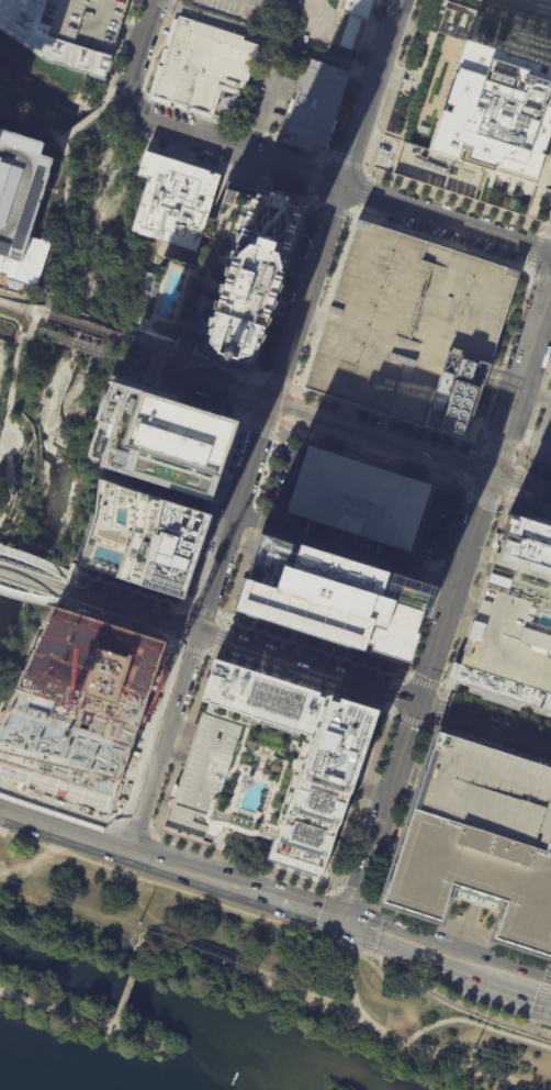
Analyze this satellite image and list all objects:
road: (443, 3)
road: (538, 3)
building: (358, 8)
parking lot: (383, 9)
parking lot: (139, 10)
road: (458, 10)
road: (465, 12)
road: (501, 15)
parking lot: (159, 18)
building: (448, 22)
road: (535, 30)
building: (67, 31)
road: (132, 33)
road: (265, 38)
road: (496, 44)
road: (139, 48)
road: (529, 49)
parking lot: (147, 56)
road: (549, 56)
building: (201, 64)
road: (400, 73)
road: (351, 77)
building: (409, 80)
road: (395, 82)
road: (395, 85)
road: (369, 91)
road: (144, 94)
road: (128, 99)
road: (112, 102)
road: (161, 102)
building: (315, 103)
road: (108, 105)
parking lot: (351, 111)
building: (495, 112)
road: (116, 114)
parking lot: (173, 114)
road: (86, 123)
building: (333, 126)
parking lot: (161, 137)
road: (64, 140)
building: (327, 142)
building: (295, 144)
road: (295, 145)
road: (230, 147)
road: (180, 148)
parking lot: (293, 151)
road: (321, 154)
parking lot: (212, 155)
road: (322, 158)
road: (346, 162)
road: (241, 168)
road: (366, 168)
road: (369, 174)
road: (543, 174)
road: (314, 176)
parking lot: (280, 177)
parking lot: (293, 181)
road: (265, 182)
road: (363, 191)
road: (310, 193)
building: (173, 200)
building: (21, 201)
road: (314, 201)
road: (459, 201)
road: (65, 205)
road: (532, 205)
road: (331, 207)
road: (358, 210)
parking lot: (461, 212)
road: (350, 213)
road: (446, 219)
road: (528, 219)
road: (542, 222)
parking lot: (442, 231)
road: (542, 232)
road: (442, 241)
road: (549, 247)
road: (535, 251)
building: (1, 256)
road: (360, 265)
road: (527, 267)
building: (8, 274)
building: (226, 275)
road: (532, 276)
parking lot: (296, 277)
road: (542, 277)
road: (283, 288)
road: (487, 288)
road: (48, 290)
road: (304, 294)
road: (326, 299)
road: (23, 309)
road: (44, 311)
road: (311, 316)
road: (34, 318)
road: (86, 327)
building: (409, 329)
parking lot: (409, 329)
road: (23, 335)
road: (428, 335)
road: (126, 341)
railway: (77, 343)
road: (155, 349)
building: (200, 349)
road: (147, 351)
building: (303, 353)
power substation: (3, 355)
road: (178, 355)
road: (153, 356)
road: (192, 357)
building: (227, 357)
road: (504, 358)
park: (146, 360)
road: (156, 360)
road: (221, 363)
road: (135, 366)
road: (149, 366)
parking lot: (220, 370)
road: (504, 371)
road: (258, 375)
road: (249, 378)
road: (274, 380)
road: (519, 381)
road: (499, 383)
road: (294, 387)
road: (297, 393)
road: (245, 397)
road: (176, 398)
road: (8, 411)
road: (291, 412)
road: (238, 415)
road: (386, 419)
road: (240, 421)
road: (358, 421)
road: (331, 423)
road: (259, 426)
road: (285, 430)
road: (307, 430)
road: (278, 433)
road: (20, 437)
building: (165, 441)
road: (3, 446)
road: (496, 454)
street lamp: (2, 457)
road: (249, 460)
road: (372, 461)
parking lot: (259, 469)
road: (291, 472)
road: (513, 479)
road: (227, 486)
road: (520, 486)
road: (466, 492)
road: (504, 493)
building: (357, 497)
parking lot: (537, 499)
road: (1, 508)
road: (528, 513)
road: (428, 516)
parking lot: (432, 526)
road: (217, 527)
road: (251, 530)
road: (449, 532)
road: (288, 534)
building: (143, 540)
road: (238, 544)
road: (34, 560)
parking lot: (203, 568)
road: (194, 572)
road: (215, 574)
road: (431, 577)
road: (34, 580)
parking lot: (223, 580)
road: (429, 592)
road: (30, 598)
parking lot: (122, 599)
building: (329, 599)
road: (475, 599)
road: (426, 604)
road: (185, 607)
road: (434, 607)
road: (176, 609)
road: (133, 611)
road: (201, 611)
road: (221, 618)
road: (113, 619)
building: (515, 621)
road: (171, 622)
road: (167, 634)
road: (217, 638)
road: (166, 642)
road: (189, 649)
road: (432, 653)
road: (211, 656)
road: (345, 659)
road: (31, 666)
road: (306, 667)
road: (405, 677)
road: (400, 680)
road: (423, 682)
road: (301, 683)
road: (443, 689)
road: (395, 694)
road: (445, 694)
traffic signals: (417, 702)
building: (79, 708)
road: (497, 708)
road: (440, 709)
road: (390, 713)
road: (412, 721)
road: (436, 723)
road: (483, 723)
road: (180, 726)
road: (430, 726)
road: (139, 730)
road: (161, 738)
road: (182, 743)
road: (492, 743)
road: (170, 754)
building: (266, 765)
road: (367, 790)
road: (58, 802)
road: (362, 802)
road: (405, 813)
road: (133, 823)
road: (356, 823)
road: (63, 824)
parking lot: (391, 839)
building: (480, 839)
parking lot: (357, 855)
road: (156, 857)
road: (239, 860)
road: (360, 875)
road: (169, 889)
road: (336, 890)
road: (330, 892)
road: (267, 894)
road: (355, 896)
road: (373, 901)
road: (140, 905)
road: (378, 910)
traffic signals: (347, 921)
power tower: (136, 924)
road: (359, 925)
road: (462, 925)
road: (371, 932)
road: (460, 932)
road: (416, 934)
road: (351, 949)
road: (363, 953)
road: (423, 955)
road: (138, 961)
road: (505, 961)
road: (175, 970)
park: (271, 970)
road: (350, 982)
road: (514, 988)
road: (126, 991)
road: (542, 993)
road: (453, 1002)
road: (323, 1004)
road: (60, 1012)
park: (82, 1017)
road: (475, 1023)
road: (531, 1025)
road: (119, 1030)
road: (144, 1037)
power tower: (472, 1049)

